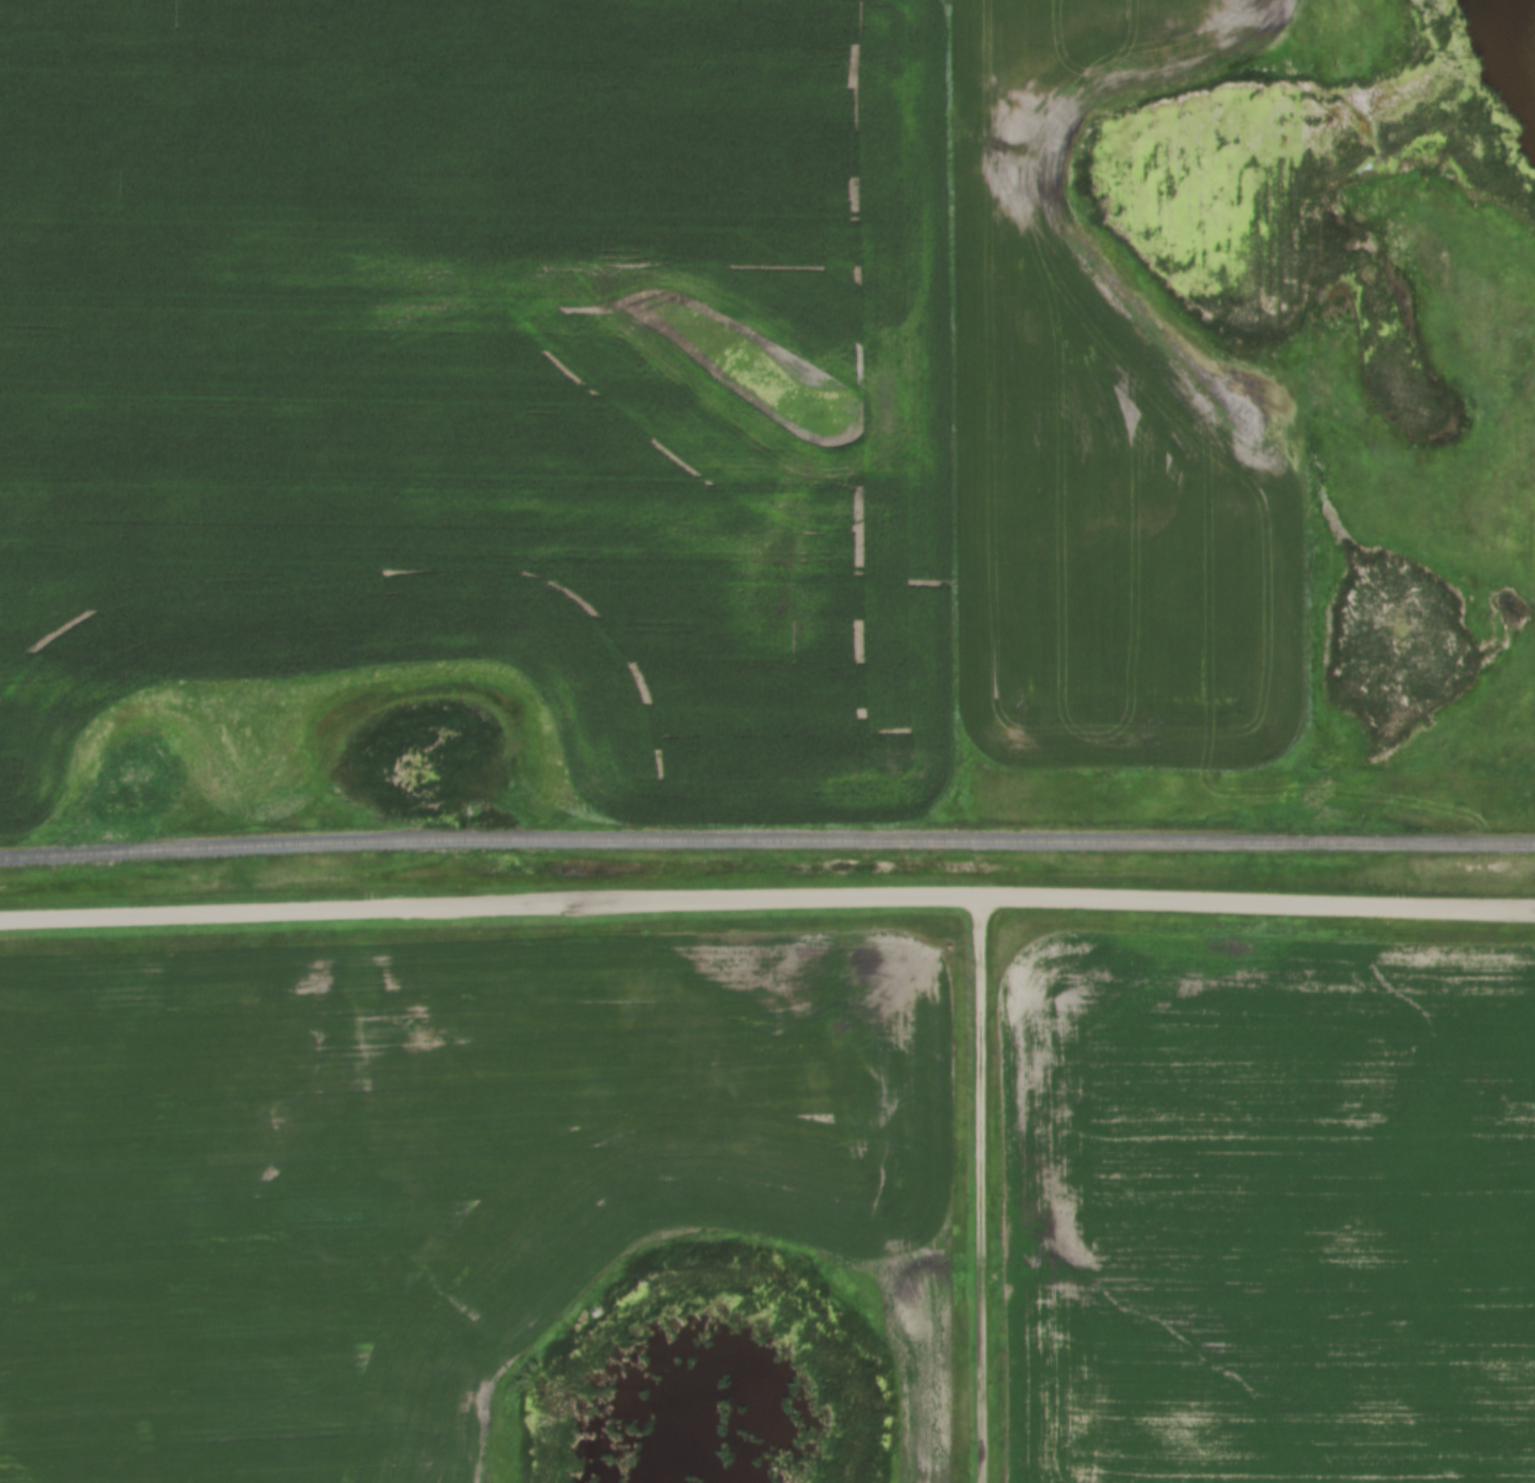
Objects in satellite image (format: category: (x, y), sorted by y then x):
railway: (767, 835)
road: (767, 900)
road: (981, 1190)

